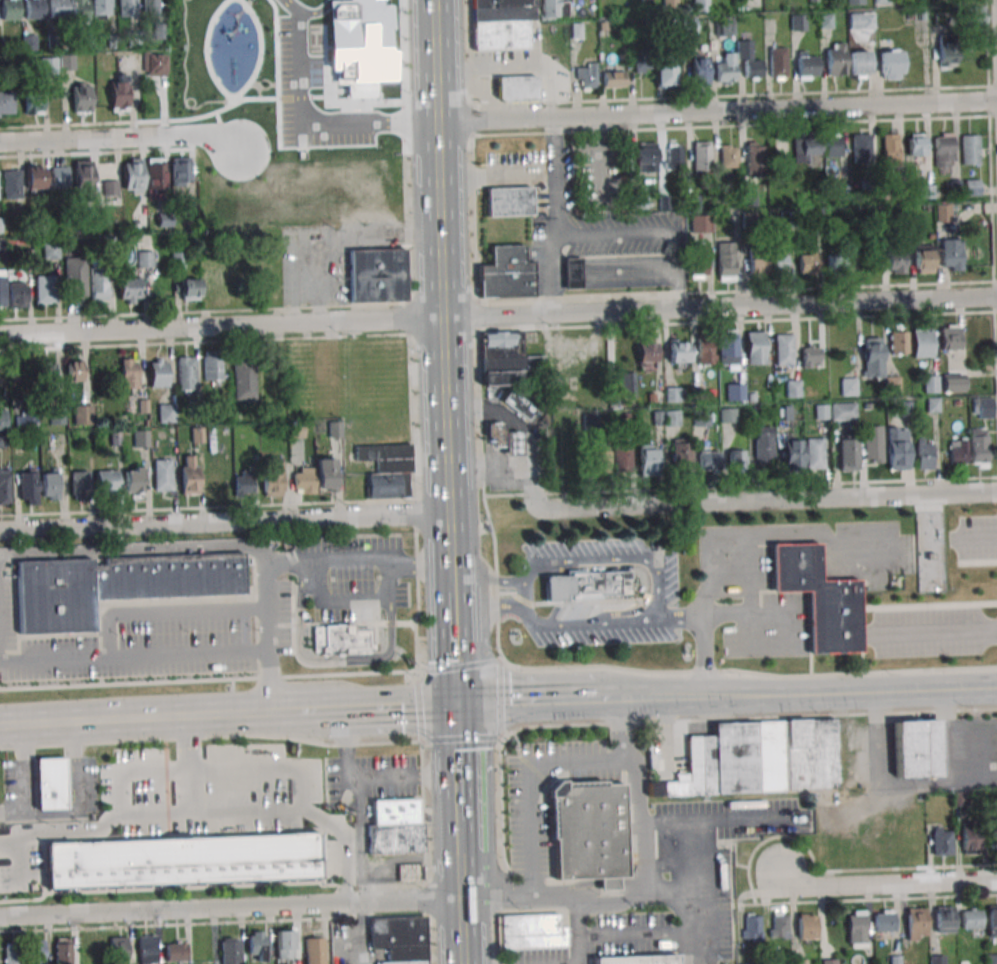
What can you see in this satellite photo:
building: (836, 1)
building: (670, 3)
building: (700, 5)
building: (151, 7)
building: (102, 8)
building: (127, 8)
building: (555, 8)
building: (33, 9)
building: (58, 9)
building: (79, 9)
building: (9, 10)
road: (327, 16)
building: (976, 16)
building: (861, 21)
building: (798, 22)
building: (502, 23)
building: (688, 25)
building: (726, 26)
building: (29, 41)
building: (947, 53)
building: (835, 59)
building: (748, 60)
building: (67, 62)
road: (435, 62)
building: (641, 62)
building: (778, 62)
building: (891, 63)
building: (48, 64)
building: (155, 64)
building: (807, 64)
building: (859, 64)
building: (699, 69)
building: (725, 69)
building: (665, 72)
building: (586, 75)
building: (614, 79)
building: (517, 87)
building: (119, 93)
building: (81, 98)
building: (7, 104)
building: (33, 105)
road: (717, 112)
road: (306, 122)
road: (119, 137)
building: (916, 144)
building: (832, 145)
building: (890, 147)
building: (805, 148)
building: (861, 148)
building: (970, 149)
building: (944, 150)
building: (701, 156)
building: (729, 156)
building: (646, 157)
building: (674, 157)
building: (753, 159)
building: (180, 168)
building: (155, 174)
building: (132, 175)
building: (60, 176)
building: (34, 177)
building: (83, 179)
building: (11, 183)
building: (109, 187)
building: (971, 187)
building: (749, 196)
building: (510, 201)
building: (942, 212)
road: (556, 215)
building: (699, 221)
building: (0, 224)
road: (618, 234)
building: (50, 250)
building: (951, 254)
building: (136, 257)
building: (767, 259)
building: (923, 259)
building: (726, 261)
building: (808, 261)
building: (896, 262)
building: (698, 263)
building: (836, 263)
building: (609, 271)
building: (508, 274)
building: (378, 275)
building: (75, 277)
building: (98, 284)
building: (2, 288)
building: (45, 289)
building: (189, 289)
building: (129, 290)
building: (17, 294)
road: (498, 315)
road: (444, 319)
building: (949, 337)
building: (898, 339)
building: (922, 342)
building: (754, 347)
building: (784, 349)
building: (678, 351)
building: (728, 351)
building: (705, 353)
building: (646, 355)
building: (811, 356)
building: (872, 357)
building: (508, 359)
building: (212, 367)
building: (74, 370)
building: (158, 372)
building: (47, 373)
building: (128, 373)
building: (186, 374)
building: (244, 382)
building: (930, 383)
building: (952, 383)
building: (627, 384)
building: (892, 384)
building: (848, 386)
building: (792, 388)
building: (735, 391)
building: (672, 394)
building: (520, 402)
building: (983, 408)
building: (843, 411)
building: (166, 413)
building: (784, 413)
building: (56, 415)
building: (83, 415)
building: (727, 415)
building: (700, 417)
building: (666, 418)
building: (3, 419)
building: (25, 421)
building: (196, 434)
building: (495, 434)
building: (140, 438)
building: (763, 443)
building: (513, 444)
building: (872, 444)
building: (979, 447)
building: (896, 448)
building: (958, 451)
building: (814, 453)
building: (848, 453)
building: (924, 453)
building: (681, 455)
building: (791, 455)
building: (622, 456)
building: (597, 458)
building: (649, 459)
building: (708, 459)
building: (737, 459)
building: (388, 470)
building: (162, 474)
building: (188, 474)
building: (303, 475)
building: (272, 476)
building: (80, 483)
building: (106, 483)
building: (244, 483)
building: (50, 484)
building: (4, 486)
building: (27, 486)
road: (769, 499)
road: (224, 523)
road: (760, 534)
road: (979, 537)
road: (1, 556)
road: (2, 556)
road: (555, 562)
building: (117, 586)
building: (586, 587)
road: (522, 593)
road: (660, 596)
building: (820, 597)
road: (455, 608)
road: (489, 608)
road: (171, 617)
road: (746, 617)
road: (678, 619)
road: (581, 624)
road: (936, 630)
building: (340, 638)
road: (701, 657)
road: (345, 662)
road: (1, 666)
road: (468, 668)
road: (753, 674)
road: (213, 680)
road: (269, 682)
road: (849, 691)
road: (651, 696)
road: (529, 699)
traffic signals: (459, 702)
road: (400, 705)
road: (337, 709)
road: (315, 710)
road: (286, 712)
road: (252, 714)
road: (116, 720)
road: (345, 744)
building: (916, 748)
building: (810, 754)
road: (459, 755)
building: (768, 755)
building: (732, 757)
road: (187, 764)
road: (75, 768)
road: (211, 768)
building: (695, 769)
road: (26, 770)
road: (403, 776)
building: (50, 783)
road: (527, 786)
road: (305, 787)
road: (119, 793)
road: (181, 813)
road: (38, 814)
road: (718, 820)
building: (395, 824)
road: (460, 830)
building: (589, 832)
road: (20, 839)
building: (992, 839)
road: (364, 841)
building: (941, 841)
building: (970, 841)
road: (10, 846)
building: (281, 855)
building: (232, 857)
building: (180, 860)
building: (125, 862)
building: (76, 864)
road: (21, 865)
road: (344, 867)
building: (410, 872)
road: (683, 875)
road: (641, 877)
road: (886, 882)
road: (231, 908)
road: (462, 908)
building: (971, 918)
building: (944, 919)
building: (884, 920)
building: (992, 921)
building: (916, 923)
building: (778, 925)
building: (806, 926)
building: (752, 927)
building: (856, 928)
building: (531, 931)
road: (581, 932)
road: (361, 934)
road: (658, 937)
building: (400, 938)
building: (285, 944)
building: (257, 946)
building: (62, 950)
building: (119, 950)
building: (147, 950)
road: (686, 950)
building: (176, 951)
building: (231, 951)
building: (313, 951)
building: (37, 952)
building: (13, 953)
building: (937, 959)
building: (991, 959)
building: (638, 960)
building: (799, 961)
building: (829, 961)

